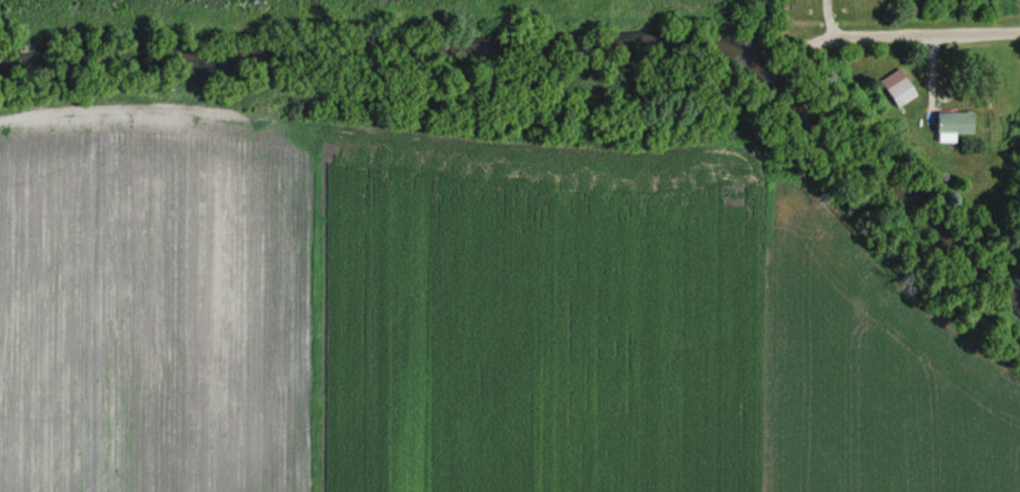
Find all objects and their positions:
road: (827, 15)
building: (895, 91)
building: (945, 122)
road: (757, 127)

